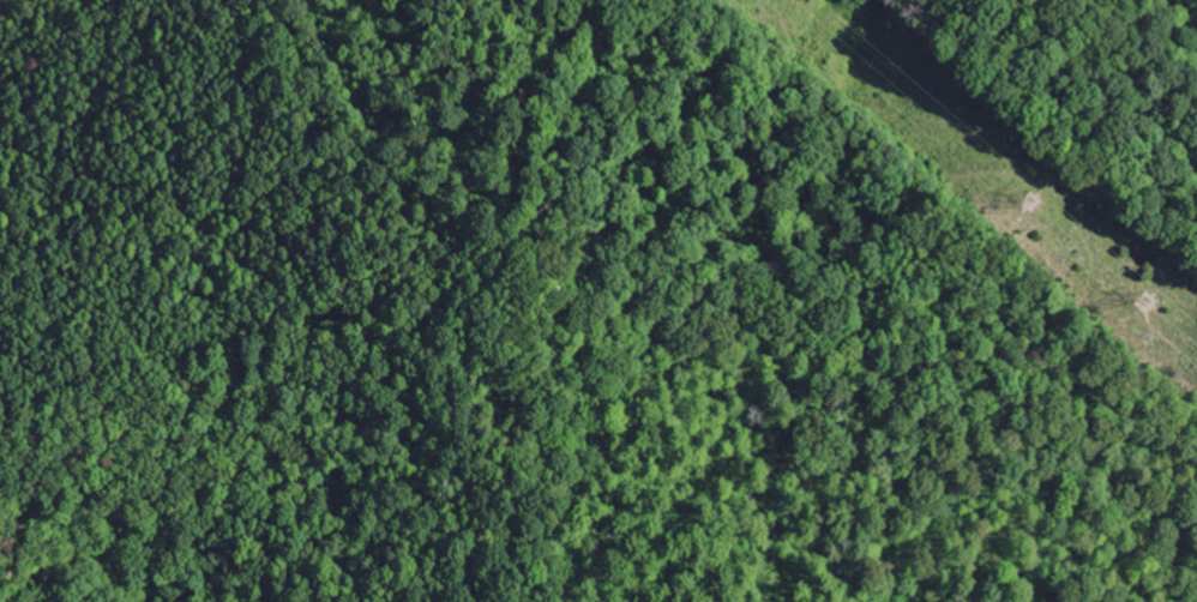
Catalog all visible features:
power tower: (1028, 204)
power tower: (1142, 303)

